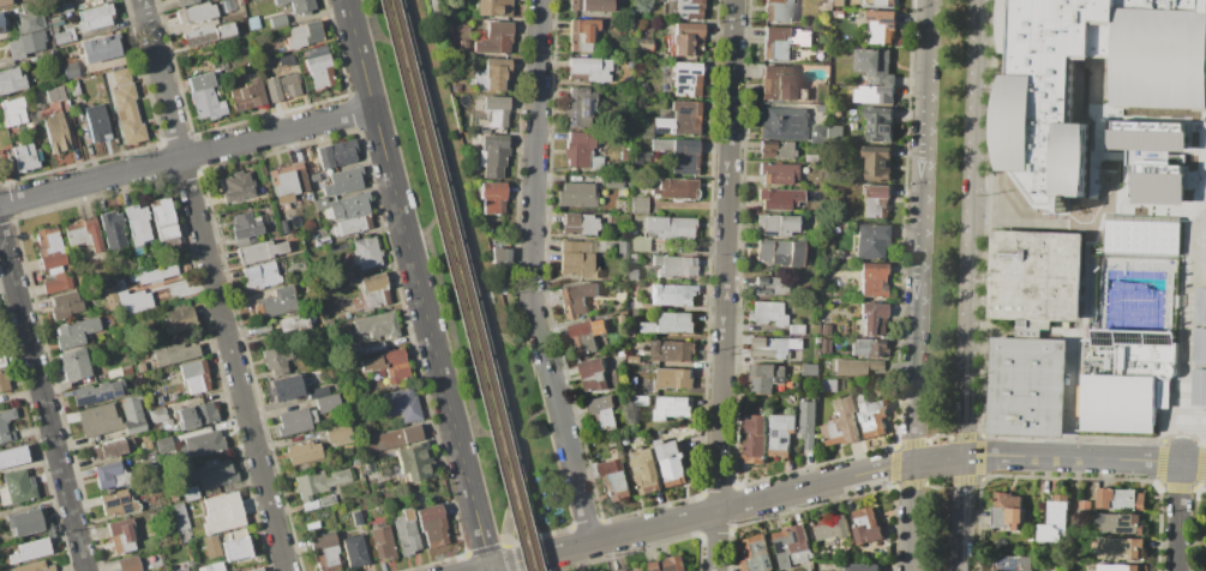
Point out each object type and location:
building: (76, 0)
building: (4, 2)
building: (186, 2)
building: (839, 2)
building: (884, 2)
building: (299, 5)
building: (592, 5)
building: (238, 6)
building: (64, 7)
building: (494, 7)
building: (689, 10)
building: (781, 10)
building: (197, 12)
building: (838, 13)
building: (95, 16)
building: (30, 22)
building: (253, 23)
building: (637, 25)
building: (463, 26)
building: (882, 26)
road: (365, 30)
building: (305, 34)
building: (208, 35)
building: (582, 35)
building: (62, 37)
building: (497, 37)
building: (686, 40)
building: (784, 40)
building: (25, 43)
building: (644, 43)
building: (97, 49)
building: (34, 60)
building: (286, 60)
building: (630, 62)
building: (874, 65)
building: (224, 66)
building: (70, 70)
building: (589, 70)
building: (320, 71)
building: (498, 74)
building: (121, 76)
building: (688, 79)
building: (11, 80)
building: (474, 82)
building: (779, 82)
building: (290, 85)
building: (272, 88)
building: (628, 92)
building: (56, 94)
building: (802, 94)
building: (874, 94)
building: (247, 95)
building: (205, 97)
building: (496, 102)
building: (580, 106)
building: (821, 107)
building: (850, 107)
building: (1036, 107)
building: (13, 112)
building: (127, 114)
building: (680, 119)
building: (97, 122)
building: (784, 124)
building: (878, 126)
building: (836, 131)
building: (56, 132)
building: (1146, 139)
building: (776, 150)
building: (582, 152)
building: (336, 154)
building: (682, 155)
road: (186, 156)
building: (25, 157)
building: (493, 157)
building: (809, 157)
building: (877, 163)
building: (778, 172)
building: (288, 181)
building: (344, 181)
building: (613, 181)
building: (238, 186)
building: (674, 188)
building: (1157, 188)
building: (876, 190)
building: (576, 194)
building: (305, 196)
building: (492, 196)
building: (779, 198)
building: (322, 202)
building: (637, 204)
road: (1162, 204)
building: (349, 206)
road: (450, 208)
building: (875, 208)
building: (164, 220)
road: (1046, 222)
building: (137, 224)
building: (580, 224)
building: (776, 224)
building: (246, 226)
building: (349, 226)
building: (283, 227)
building: (668, 227)
road: (427, 228)
building: (113, 229)
building: (85, 233)
road: (1205, 234)
road: (416, 236)
building: (1142, 238)
building: (322, 241)
building: (871, 241)
building: (640, 245)
building: (50, 247)
building: (620, 247)
building: (262, 252)
building: (780, 252)
building: (367, 253)
park: (456, 256)
building: (634, 257)
building: (577, 260)
building: (502, 265)
building: (678, 266)
building: (155, 274)
road: (532, 274)
building: (634, 274)
building: (260, 275)
building: (1036, 276)
building: (874, 280)
road: (479, 281)
building: (58, 282)
building: (352, 282)
road: (916, 284)
road: (966, 284)
road: (1086, 284)
road: (212, 285)
road: (416, 285)
railway: (455, 285)
railway: (464, 285)
road: (724, 285)
building: (770, 287)
building: (376, 290)
building: (674, 294)
building: (110, 297)
building: (577, 297)
building: (136, 301)
building: (276, 302)
building: (66, 305)
building: (620, 306)
building: (1199, 306)
building: (768, 312)
building: (870, 315)
building: (181, 319)
building: (620, 319)
building: (676, 321)
building: (294, 324)
building: (378, 324)
building: (263, 327)
building: (796, 329)
building: (826, 329)
building: (74, 332)
building: (583, 337)
building: (0, 338)
building: (816, 341)
road: (514, 345)
building: (826, 345)
building: (1199, 345)
building: (868, 347)
building: (370, 348)
building: (772, 348)
building: (672, 350)
building: (620, 353)
building: (175, 354)
building: (276, 357)
building: (634, 359)
road: (1183, 360)
building: (2, 361)
building: (76, 365)
building: (388, 365)
building: (140, 367)
building: (854, 367)
building: (191, 368)
building: (808, 369)
building: (126, 371)
building: (280, 371)
building: (592, 373)
building: (766, 377)
building: (674, 378)
building: (613, 379)
building: (632, 379)
building: (305, 380)
building: (1126, 380)
building: (4, 381)
building: (1026, 383)
building: (194, 385)
building: (827, 385)
building: (1198, 386)
building: (286, 387)
building: (319, 391)
building: (96, 392)
building: (1162, 393)
road: (1070, 395)
building: (641, 401)
road: (42, 402)
building: (329, 402)
building: (402, 404)
building: (673, 407)
road: (534, 413)
building: (602, 413)
building: (197, 414)
building: (133, 415)
building: (158, 415)
building: (871, 415)
building: (312, 416)
building: (98, 420)
building: (293, 422)
building: (806, 422)
building: (841, 423)
building: (6, 425)
park: (535, 426)
road: (466, 429)
building: (340, 434)
building: (780, 434)
building: (394, 437)
building: (754, 439)
building: (163, 444)
building: (203, 444)
building: (107, 450)
building: (304, 452)
building: (13, 456)
building: (412, 462)
building: (671, 462)
building: (366, 465)
building: (644, 471)
building: (214, 473)
building: (107, 474)
road: (842, 477)
building: (614, 479)
building: (319, 482)
building: (17, 487)
building: (410, 488)
building: (190, 493)
building: (385, 494)
building: (1120, 499)
building: (326, 500)
building: (119, 503)
building: (1086, 505)
building: (1007, 512)
building: (223, 513)
building: (180, 516)
road: (1177, 516)
building: (356, 517)
building: (1055, 519)
building: (24, 522)
building: (1120, 523)
building: (432, 524)
building: (866, 527)
building: (832, 528)
building: (406, 533)
building: (121, 536)
building: (184, 536)
building: (382, 541)
building: (790, 543)
building: (211, 547)
building: (235, 547)
building: (1120, 547)
building: (30, 549)
building: (355, 551)
building: (325, 552)
building: (754, 553)
building: (1013, 563)
building: (130, 564)
building: (668, 564)
building: (34, 567)
building: (211, 567)
road: (510, 567)
building: (862, 567)
building: (1121, 567)
building: (184, 569)
building: (632, 569)
building: (258, 570)
road: (484, 570)

